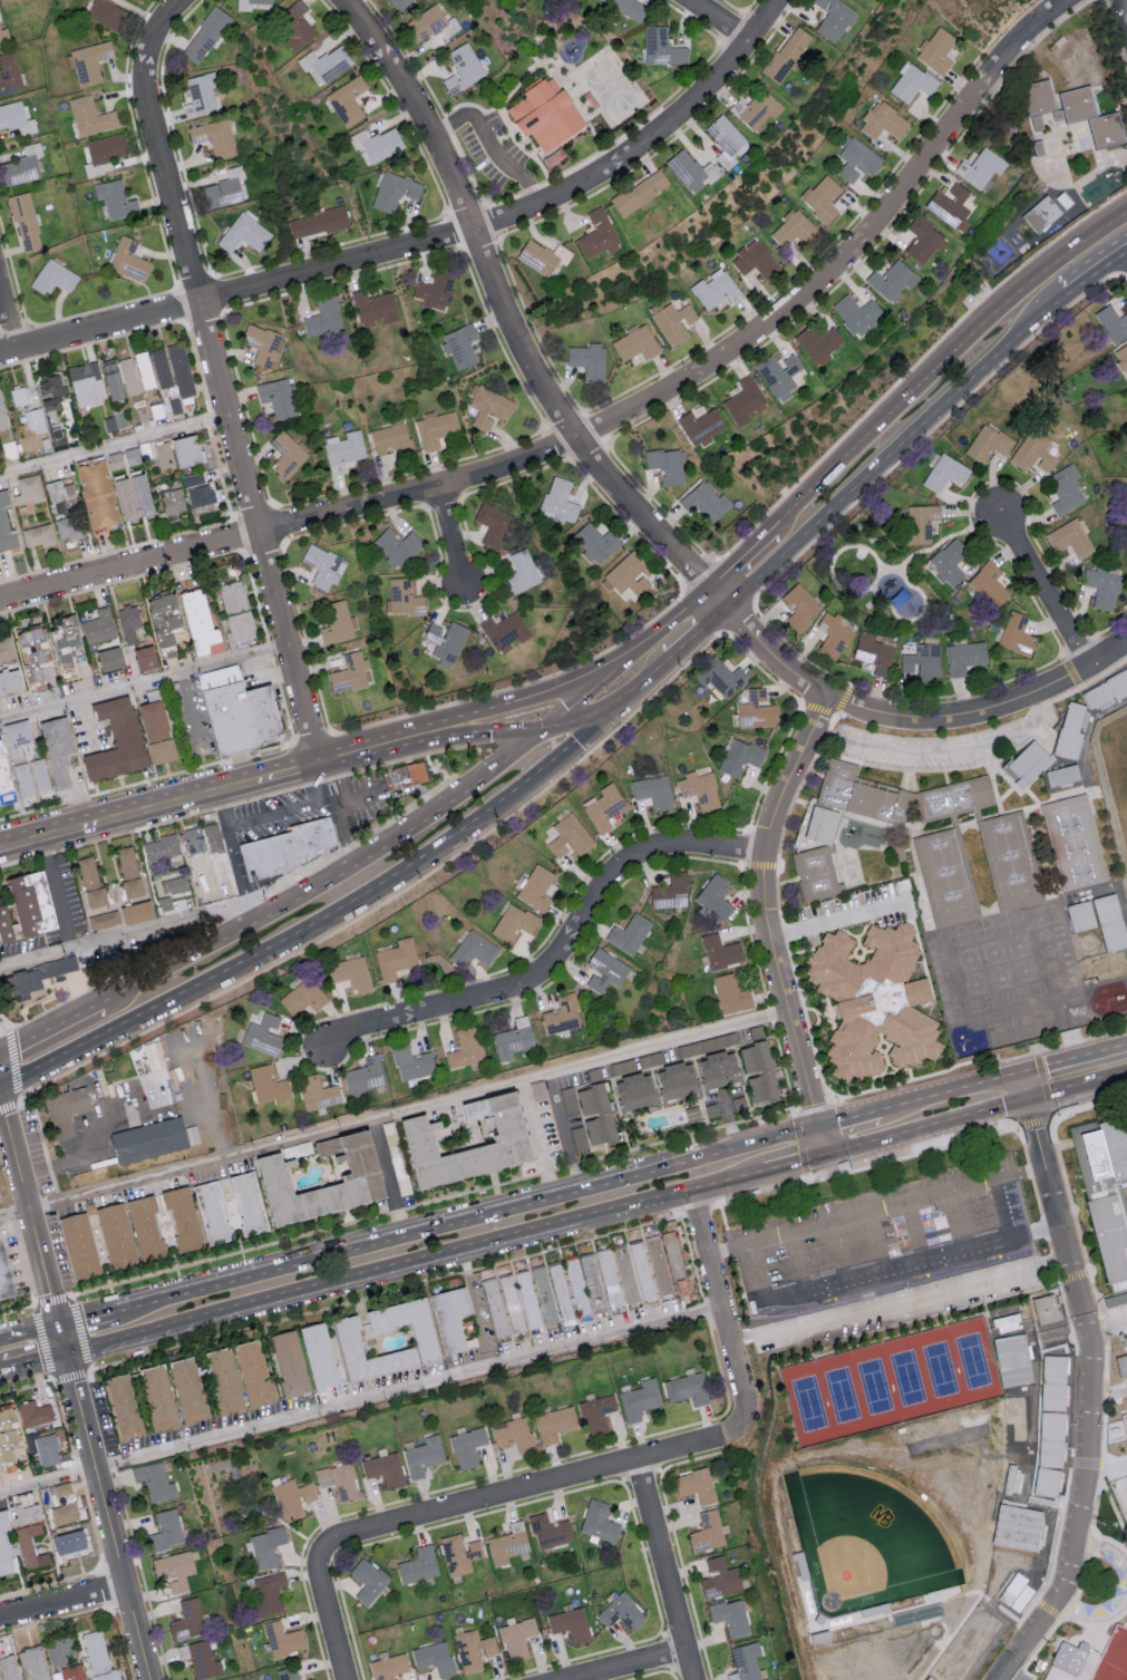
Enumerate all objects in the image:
road: (1126, 2)
building: (249, 3)
building: (399, 3)
building: (629, 7)
building: (106, 13)
building: (834, 18)
road: (713, 21)
building: (294, 23)
building: (426, 23)
building: (205, 35)
building: (3, 36)
building: (661, 47)
building: (936, 50)
building: (786, 54)
building: (89, 61)
building: (327, 62)
building: (463, 68)
building: (9, 74)
building: (912, 82)
building: (201, 95)
building: (1037, 97)
building: (348, 100)
building: (1076, 104)
building: (756, 109)
building: (544, 114)
building: (90, 116)
building: (17, 117)
building: (883, 120)
building: (1036, 123)
building: (1105, 130)
building: (215, 137)
building: (726, 139)
road: (492, 142)
building: (378, 143)
building: (856, 159)
building: (22, 166)
building: (981, 167)
building: (690, 169)
building: (225, 188)
building: (395, 191)
building: (640, 192)
building: (822, 197)
building: (115, 198)
building: (949, 204)
building: (1041, 213)
building: (25, 222)
building: (319, 222)
building: (793, 229)
building: (245, 233)
building: (596, 233)
building: (923, 239)
road: (424, 241)
building: (542, 255)
building: (128, 259)
building: (755, 260)
road: (1096, 270)
road: (1123, 270)
road: (1123, 275)
building: (54, 276)
building: (891, 279)
building: (435, 289)
building: (715, 289)
building: (373, 305)
road: (505, 308)
building: (855, 313)
building: (323, 317)
road: (8, 319)
building: (672, 321)
building: (1113, 323)
building: (817, 341)
building: (261, 343)
building: (635, 343)
building: (460, 344)
road: (943, 356)
building: (1121, 356)
building: (587, 360)
building: (161, 367)
road: (912, 367)
building: (144, 369)
building: (179, 369)
building: (778, 372)
building: (128, 376)
road: (223, 376)
building: (110, 379)
building: (86, 385)
building: (51, 387)
building: (20, 396)
building: (278, 397)
building: (745, 401)
building: (50, 404)
building: (175, 405)
building: (489, 406)
building: (1, 414)
road: (929, 419)
building: (36, 420)
road: (608, 425)
building: (700, 426)
building: (436, 429)
road: (929, 431)
building: (391, 439)
building: (989, 443)
road: (117, 448)
building: (346, 448)
building: (185, 450)
building: (1033, 451)
building: (164, 454)
building: (286, 455)
building: (667, 465)
building: (945, 473)
road: (988, 480)
building: (1066, 488)
building: (28, 489)
building: (197, 489)
building: (60, 495)
building: (97, 495)
building: (140, 495)
building: (173, 497)
building: (124, 499)
building: (560, 499)
building: (706, 501)
building: (920, 523)
building: (6, 525)
building: (69, 525)
building: (493, 525)
building: (39, 535)
road: (454, 536)
building: (1070, 537)
building: (596, 542)
building: (397, 544)
road: (785, 548)
road: (744, 555)
building: (949, 561)
building: (321, 565)
building: (522, 571)
road: (698, 572)
building: (628, 574)
road: (754, 579)
building: (989, 584)
building: (1102, 586)
road: (1045, 590)
building: (232, 594)
road: (719, 595)
building: (405, 598)
building: (799, 606)
road: (679, 614)
road: (739, 619)
building: (128, 622)
building: (198, 622)
building: (337, 622)
road: (1115, 623)
building: (98, 624)
building: (241, 624)
building: (505, 630)
road: (698, 630)
building: (1016, 634)
building: (833, 635)
building: (64, 640)
building: (446, 640)
road: (1077, 645)
building: (6, 649)
road: (798, 652)
building: (874, 652)
building: (33, 653)
road: (633, 653)
road: (1107, 653)
building: (108, 657)
building: (144, 657)
building: (964, 657)
building: (922, 662)
traffic signals: (619, 666)
road: (1071, 671)
road: (265, 672)
building: (349, 672)
building: (720, 677)
road: (1061, 678)
road: (1091, 680)
building: (9, 681)
road: (521, 683)
road: (144, 684)
road: (633, 690)
road: (959, 693)
building: (1108, 698)
road: (524, 700)
road: (582, 700)
road: (187, 702)
road: (865, 707)
building: (263, 708)
building: (757, 710)
building: (230, 713)
road: (834, 717)
building: (153, 719)
road: (87, 721)
traffic signals: (596, 725)
road: (570, 729)
road: (485, 734)
traffic signals: (543, 734)
building: (17, 736)
road: (313, 736)
building: (116, 738)
building: (1072, 740)
parking lot: (937, 747)
building: (57, 748)
building: (162, 750)
road: (362, 750)
road: (944, 752)
building: (740, 756)
road: (434, 770)
road: (791, 771)
building: (1030, 771)
park: (1115, 773)
building: (40, 774)
building: (409, 776)
building: (1061, 776)
building: (6, 778)
building: (23, 778)
road: (147, 779)
building: (1063, 786)
building: (699, 788)
building: (653, 790)
road: (395, 792)
road: (163, 803)
road: (231, 804)
road: (224, 806)
road: (289, 806)
building: (905, 806)
building: (604, 807)
road: (344, 812)
road: (684, 824)
building: (213, 836)
building: (570, 836)
road: (360, 838)
building: (193, 839)
road: (14, 842)
road: (745, 846)
building: (162, 847)
building: (286, 847)
building: (1077, 852)
road: (239, 862)
road: (758, 864)
building: (128, 871)
building: (1013, 871)
building: (90, 881)
building: (174, 884)
road: (324, 884)
building: (819, 885)
building: (950, 886)
building: (536, 887)
building: (670, 891)
road: (58, 892)
building: (715, 896)
road: (890, 899)
building: (30, 900)
building: (165, 902)
road: (241, 907)
building: (136, 911)
building: (104, 919)
building: (514, 921)
building: (4, 922)
road: (311, 926)
building: (1102, 930)
road: (139, 932)
building: (629, 933)
building: (474, 949)
road: (863, 950)
building: (720, 951)
road: (557, 952)
building: (396, 958)
parking lot: (861, 962)
road: (799, 963)
building: (605, 969)
building: (350, 972)
building: (39, 974)
road: (114, 975)
building: (953, 975)
building: (730, 993)
building: (303, 996)
building: (874, 999)
road: (787, 1002)
building: (562, 1014)
road: (770, 1016)
road: (2, 1017)
road: (45, 1028)
road: (829, 1029)
building: (263, 1033)
building: (513, 1038)
building: (465, 1047)
road: (816, 1056)
road: (1075, 1057)
building: (411, 1061)
building: (622, 1066)
road: (13, 1069)
building: (718, 1069)
building: (757, 1070)
road: (1020, 1071)
traffic signals: (1017, 1072)
building: (365, 1075)
building: (677, 1079)
building: (268, 1084)
road: (1020, 1086)
road: (1075, 1086)
building: (633, 1089)
road: (948, 1090)
building: (318, 1093)
building: (567, 1098)
traffic signals: (1024, 1099)
building: (739, 1103)
road: (1049, 1104)
building: (65, 1109)
building: (711, 1109)
road: (394, 1110)
building: (595, 1113)
road: (848, 1116)
road: (796, 1125)
traffic signals: (817, 1125)
road: (924, 1126)
building: (508, 1134)
road: (537, 1137)
building: (148, 1138)
building: (579, 1138)
building: (1106, 1150)
traffic signals: (824, 1154)
road: (794, 1163)
building: (361, 1172)
road: (387, 1175)
road: (476, 1191)
building: (247, 1203)
road: (718, 1203)
road: (28, 1206)
road: (696, 1207)
road: (885, 1211)
building: (212, 1212)
road: (676, 1214)
road: (12, 1216)
building: (182, 1216)
road: (470, 1217)
building: (145, 1225)
road: (1045, 1226)
road: (958, 1230)
building: (115, 1234)
building: (1109, 1237)
road: (916, 1240)
parking lot: (883, 1241)
building: (78, 1244)
road: (877, 1251)
building: (673, 1260)
road: (839, 1260)
road: (416, 1261)
building: (659, 1264)
building: (642, 1270)
road: (799, 1271)
building: (3, 1276)
building: (610, 1278)
road: (28, 1281)
building: (593, 1281)
road: (755, 1282)
building: (577, 1285)
building: (561, 1290)
road: (382, 1293)
building: (544, 1293)
building: (527, 1298)
road: (900, 1300)
building: (512, 1302)
building: (495, 1305)
road: (1097, 1305)
road: (475, 1308)
building: (1046, 1311)
road: (90, 1313)
road: (725, 1315)
building: (450, 1317)
building: (1008, 1320)
traffic signals: (58, 1321)
building: (407, 1323)
road: (29, 1329)
road: (62, 1336)
traffic signals: (67, 1350)
building: (401, 1351)
building: (318, 1354)
road: (35, 1358)
building: (288, 1362)
building: (1012, 1362)
building: (1123, 1366)
road: (2, 1367)
building: (1051, 1370)
building: (252, 1372)
road: (54, 1377)
building: (223, 1380)
park: (892, 1383)
road: (26, 1386)
building: (687, 1388)
building: (187, 1389)
building: (157, 1397)
road: (1088, 1397)
building: (1051, 1398)
building: (640, 1399)
road: (361, 1401)
building: (122, 1405)
building: (35, 1412)
building: (596, 1412)
building: (1013, 1415)
building: (1126, 1416)
building: (973, 1419)
building: (554, 1422)
building: (946, 1426)
building: (1050, 1427)
building: (513, 1433)
building: (920, 1434)
building: (8, 1438)
building: (1011, 1440)
building: (467, 1446)
building: (47, 1449)
building: (424, 1455)
building: (1049, 1455)
building: (385, 1468)
building: (339, 1479)
building: (154, 1480)
building: (1011, 1480)
building: (694, 1484)
building: (1047, 1484)
road: (533, 1487)
building: (62, 1488)
building: (292, 1497)
road: (1080, 1502)
building: (25, 1513)
building: (65, 1513)
road: (107, 1515)
building: (599, 1521)
building: (1018, 1528)
building: (165, 1530)
building: (548, 1530)
building: (707, 1531)
building: (68, 1542)
park: (868, 1542)
building: (508, 1543)
building: (30, 1545)
building: (268, 1546)
building: (4, 1547)
building: (459, 1553)
building: (418, 1565)
building: (174, 1569)
road: (664, 1570)
building: (719, 1577)
building: (368, 1580)
building: (1014, 1589)
road: (1125, 1590)
building: (268, 1593)
road: (62, 1602)
road: (327, 1603)
building: (874, 1610)
building: (621, 1611)
building: (730, 1615)
building: (187, 1619)
building: (571, 1623)
road: (1100, 1624)
building: (971, 1628)
building: (517, 1637)
building: (283, 1639)
building: (61, 1648)
building: (473, 1649)
building: (98, 1657)
building: (434, 1658)
track: (1115, 1658)
track: (1115, 1658)
building: (200, 1659)
building: (1072, 1659)
building: (745, 1661)
building: (33, 1662)
building: (388, 1666)
road: (632, 1666)
building: (9, 1667)
building: (963, 1671)
building: (70, 1672)
building: (288, 1673)
building: (0, 1677)
parking lot: (1026, 1677)
building: (311, 1679)
building: (932, 1679)

